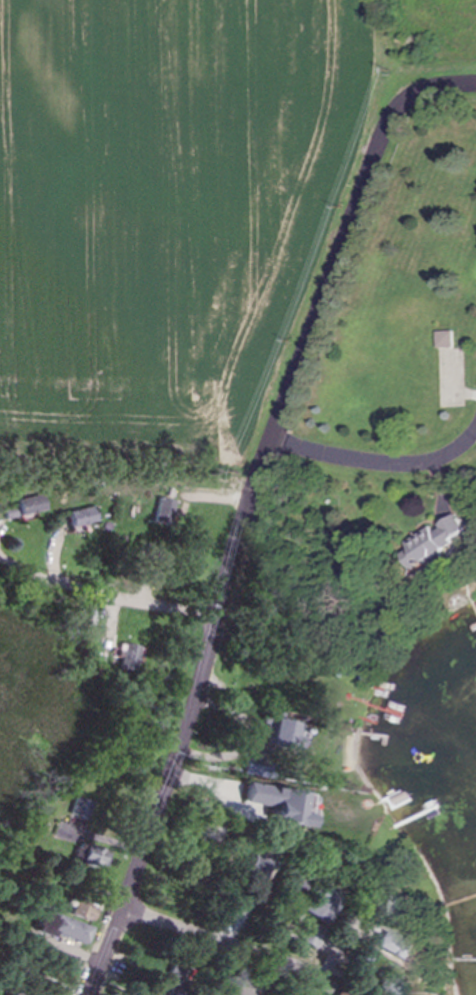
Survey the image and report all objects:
building: (445, 339)
road: (377, 464)
building: (26, 506)
road: (244, 508)
building: (161, 511)
building: (81, 516)
building: (439, 540)
road: (107, 594)
building: (130, 656)
building: (285, 734)
building: (254, 767)
building: (281, 803)
building: (95, 856)
building: (255, 866)
building: (388, 902)
building: (317, 903)
building: (83, 910)
building: (66, 927)
building: (304, 935)
road: (222, 942)
building: (392, 947)
building: (65, 959)
road: (327, 960)
building: (352, 963)
building: (238, 985)
building: (384, 988)
building: (15, 993)

